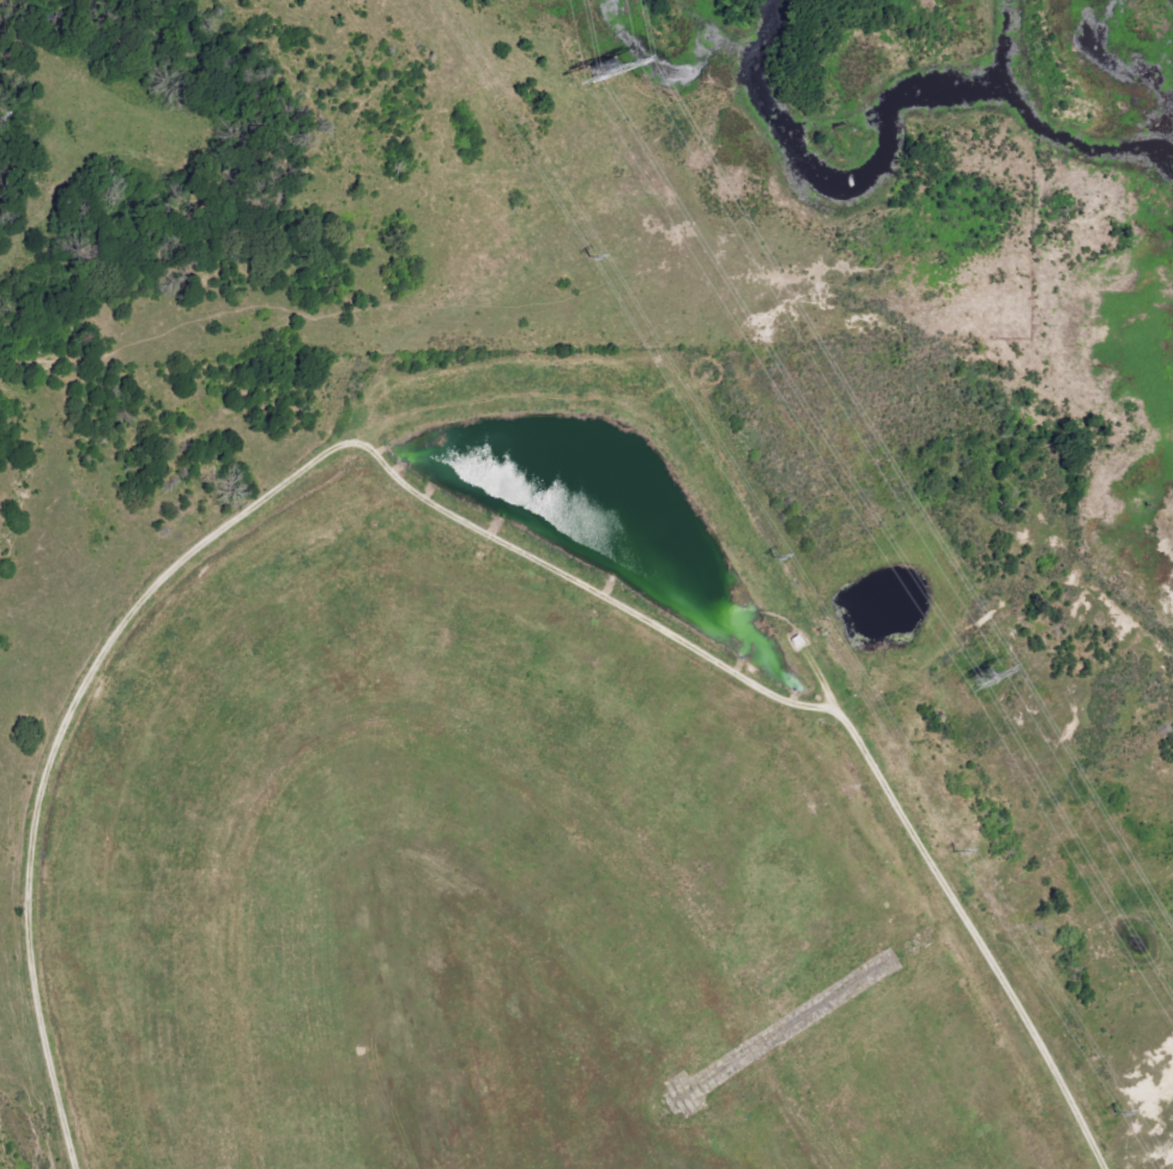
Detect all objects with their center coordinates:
power tower: (588, 73)
power tower: (587, 258)
power tower: (772, 559)
power tower: (981, 674)
power tower: (956, 852)
power tower: (1109, 1110)

